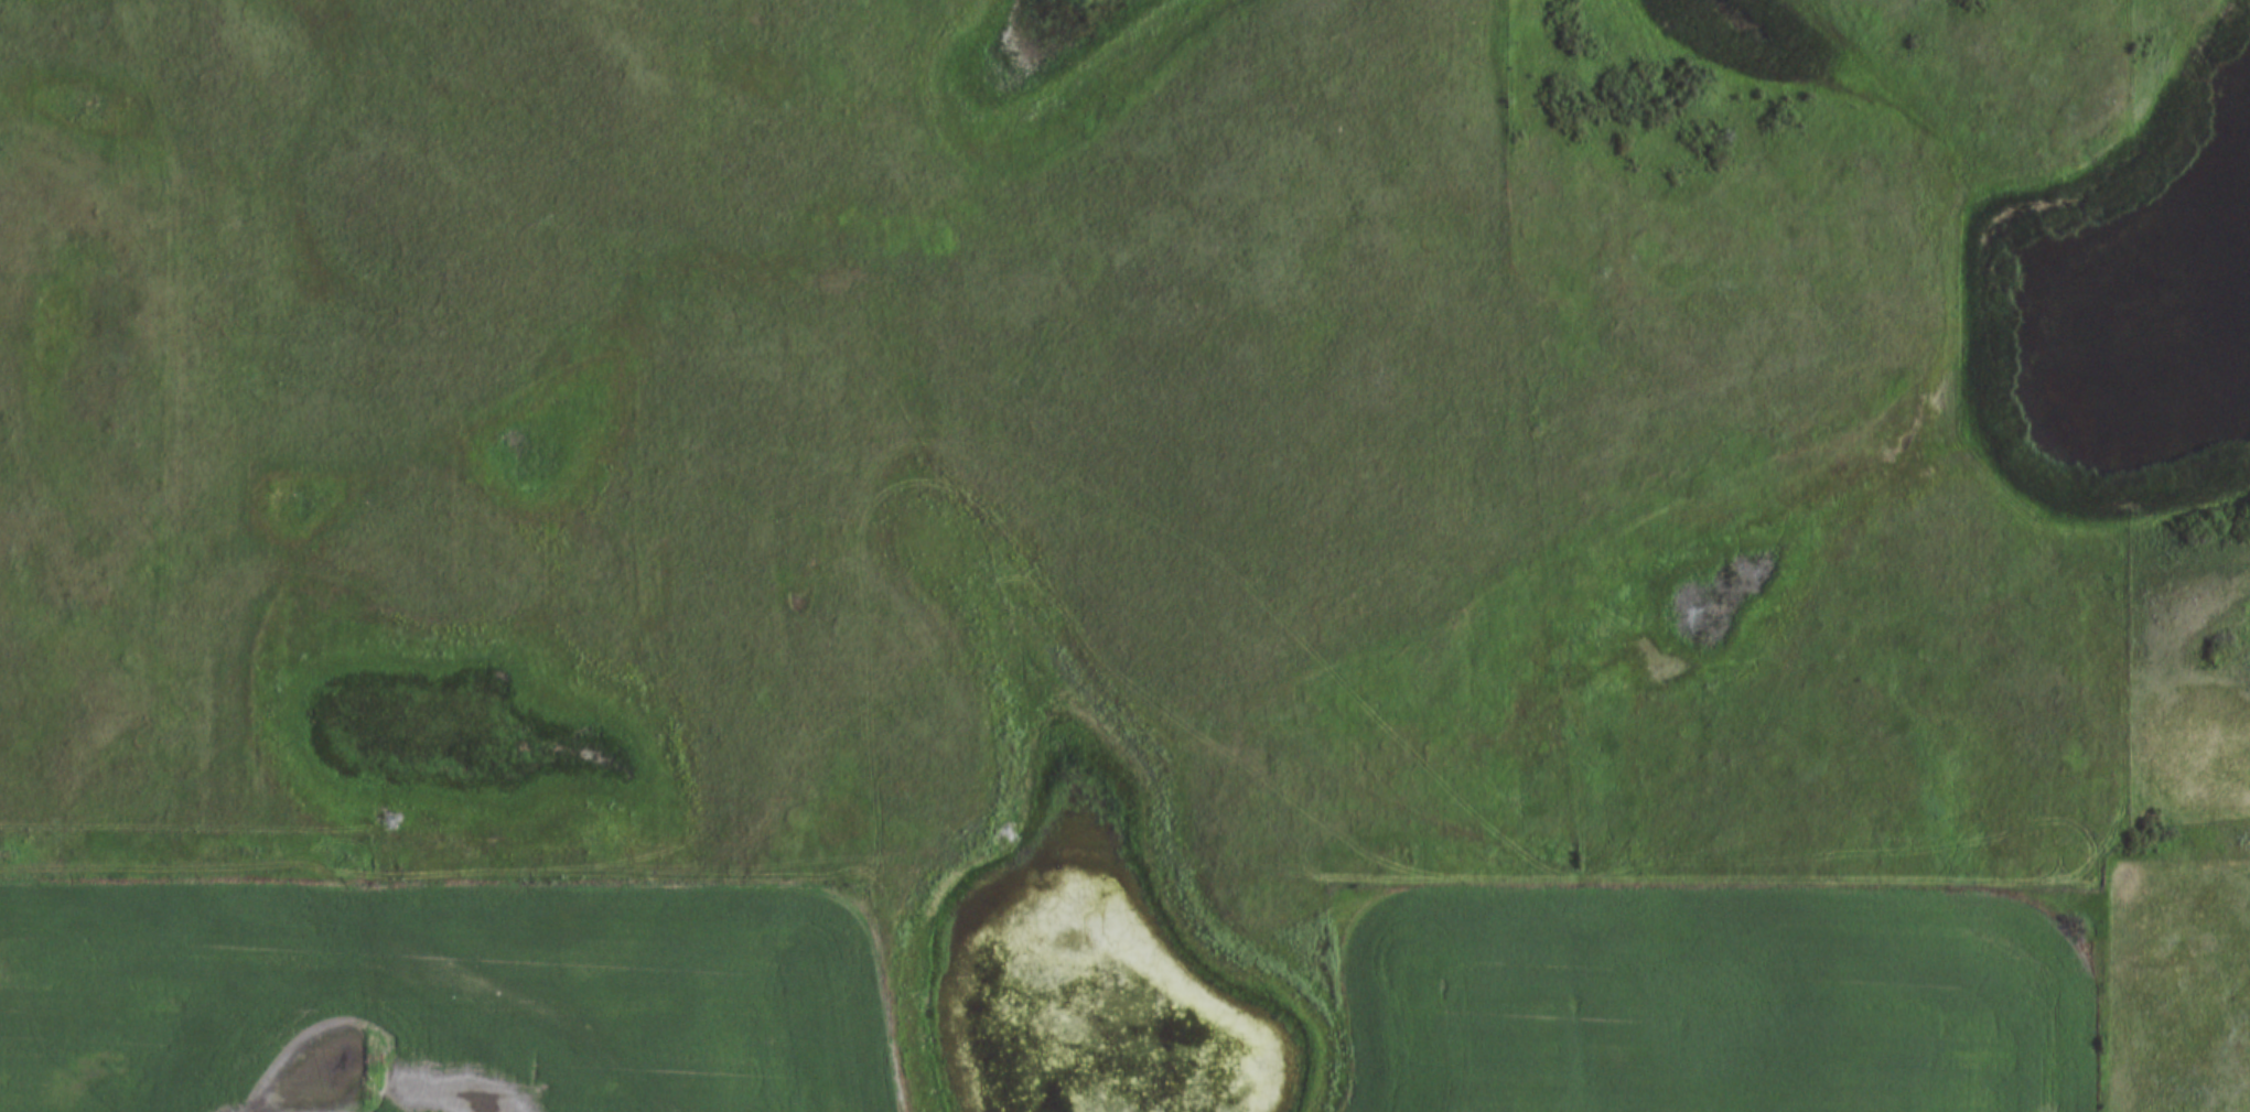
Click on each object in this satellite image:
road: (294, 861)

